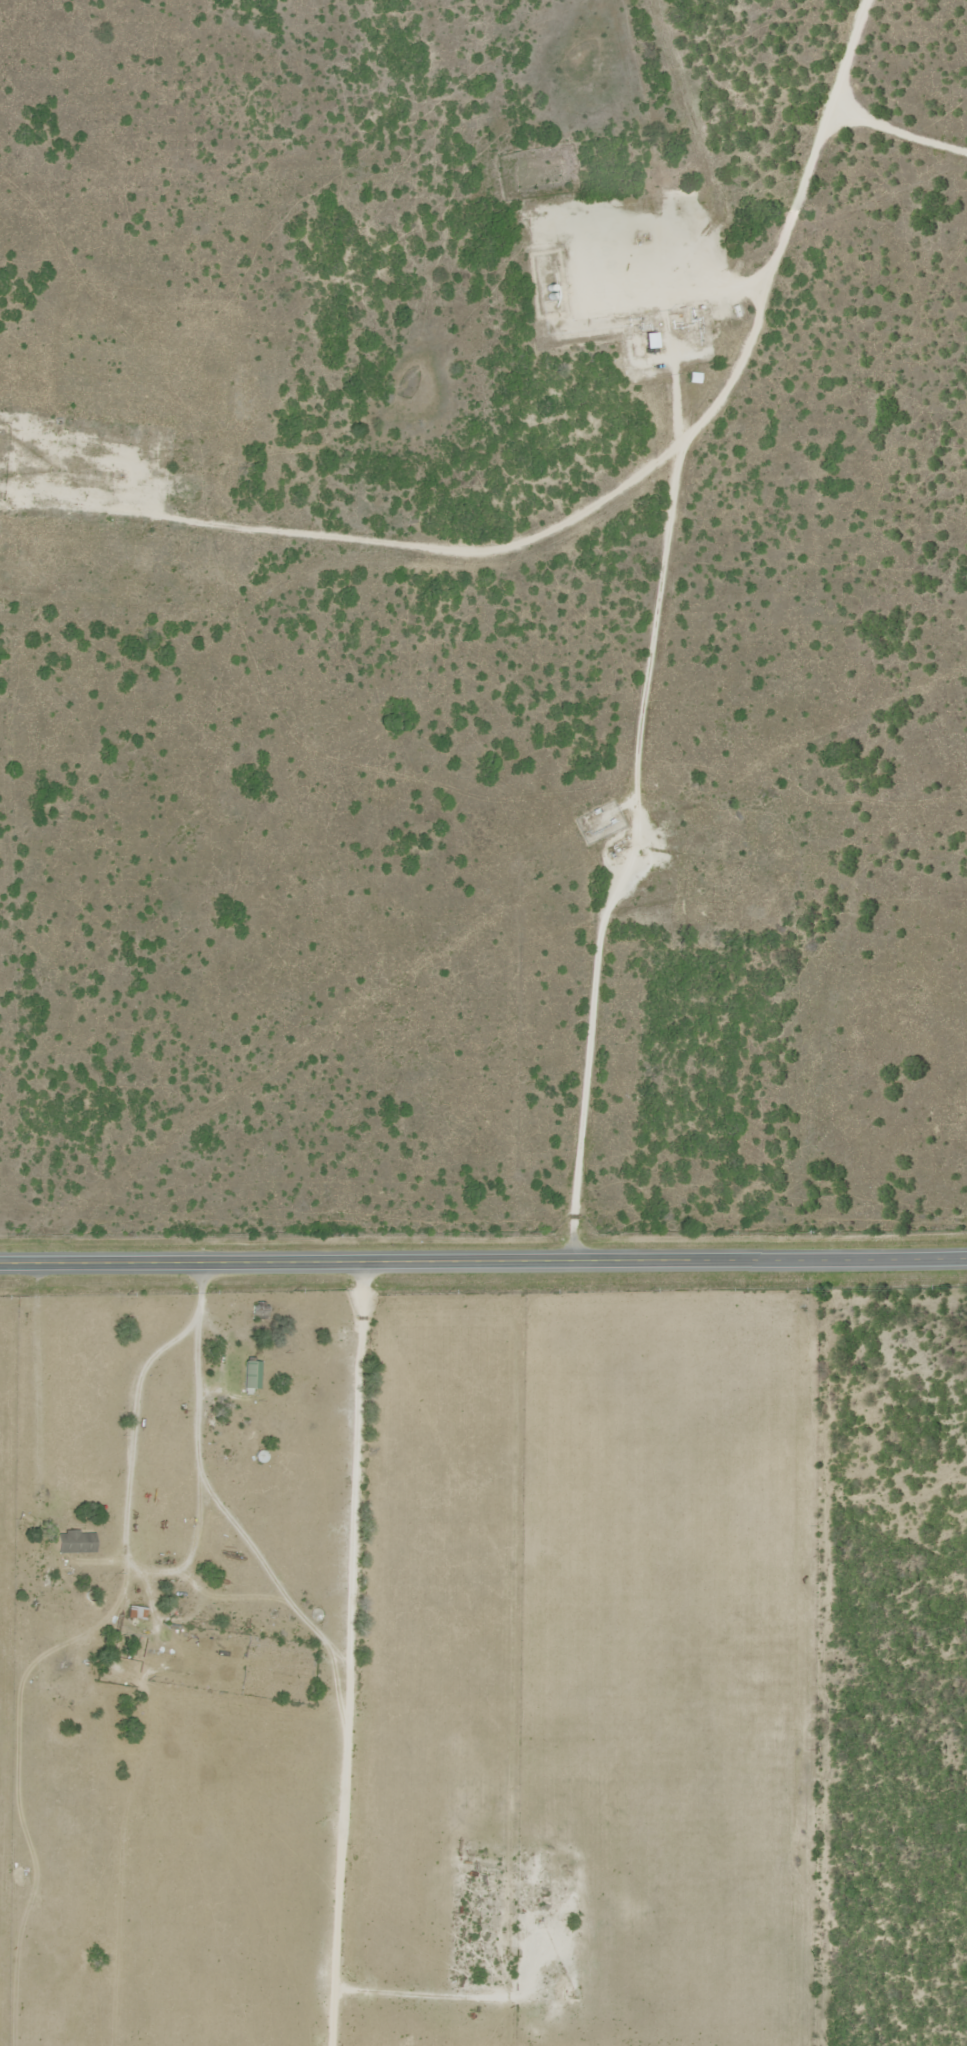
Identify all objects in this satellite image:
road: (824, 125)
road: (529, 542)
road: (625, 861)
road: (483, 1272)
building: (259, 1308)
building: (251, 1374)
road: (144, 1409)
building: (75, 1541)
building: (135, 1613)
road: (330, 1660)

